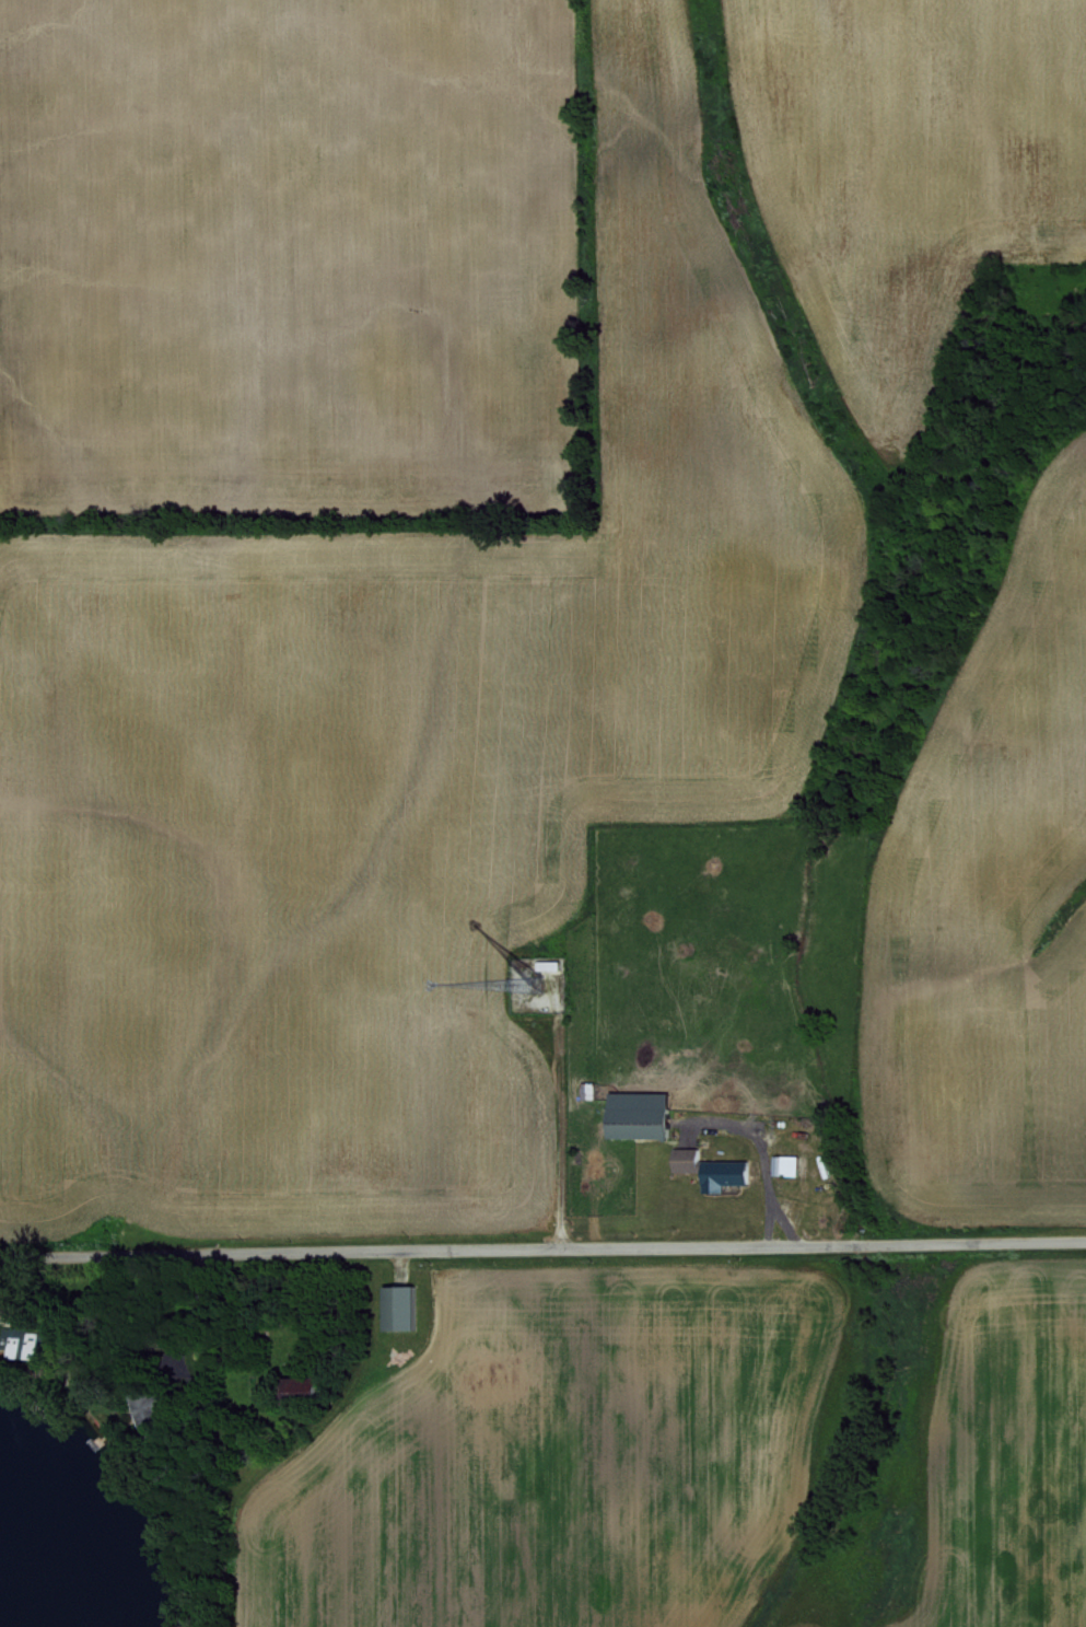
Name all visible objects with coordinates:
building: (547, 964)
building: (635, 1114)
building: (685, 1159)
building: (784, 1164)
road: (760, 1169)
building: (722, 1174)
road: (542, 1248)
building: (396, 1308)
road: (187, 1320)
building: (17, 1347)

